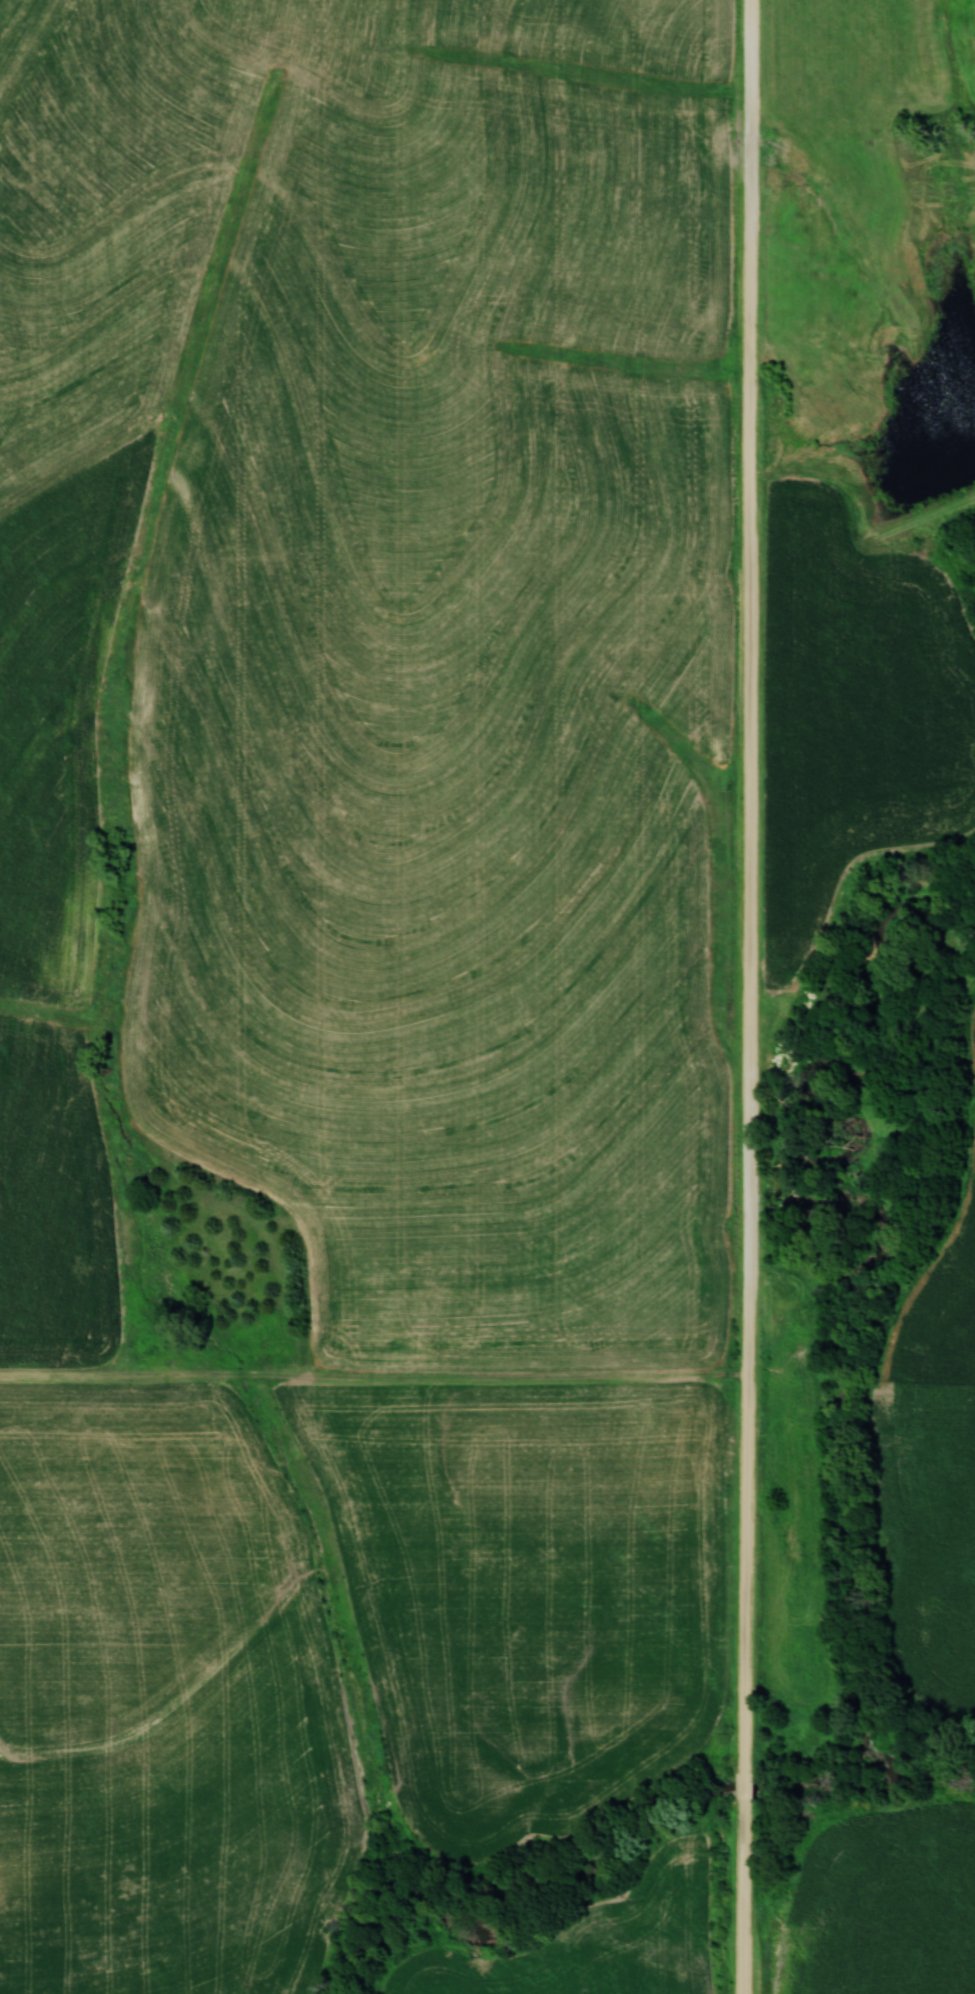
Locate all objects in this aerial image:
road: (751, 886)
road: (743, 1785)
road: (742, 1895)

